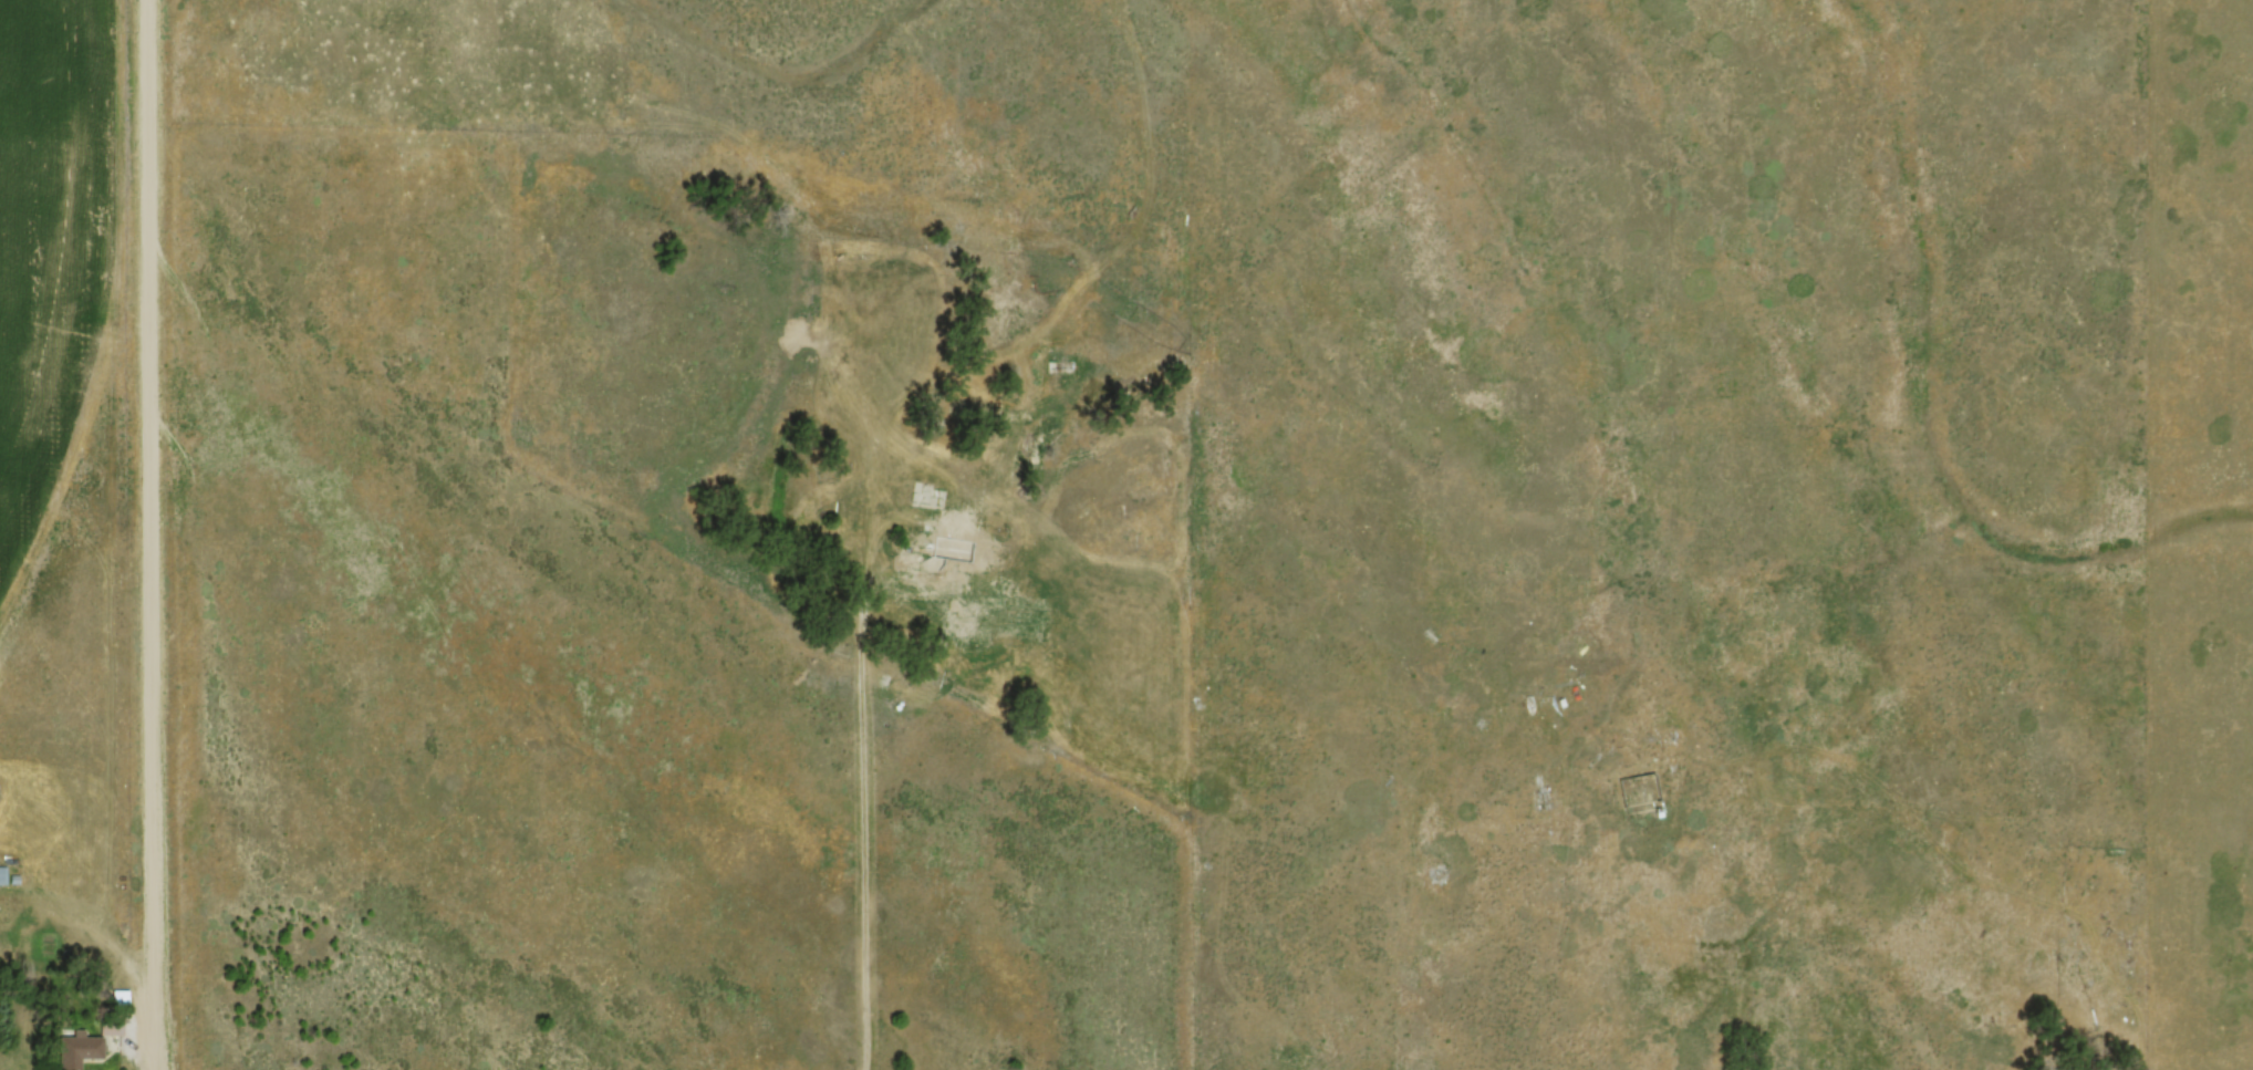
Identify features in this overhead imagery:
road: (138, 534)
building: (947, 552)
road: (864, 809)
building: (0, 875)
building: (75, 1050)

